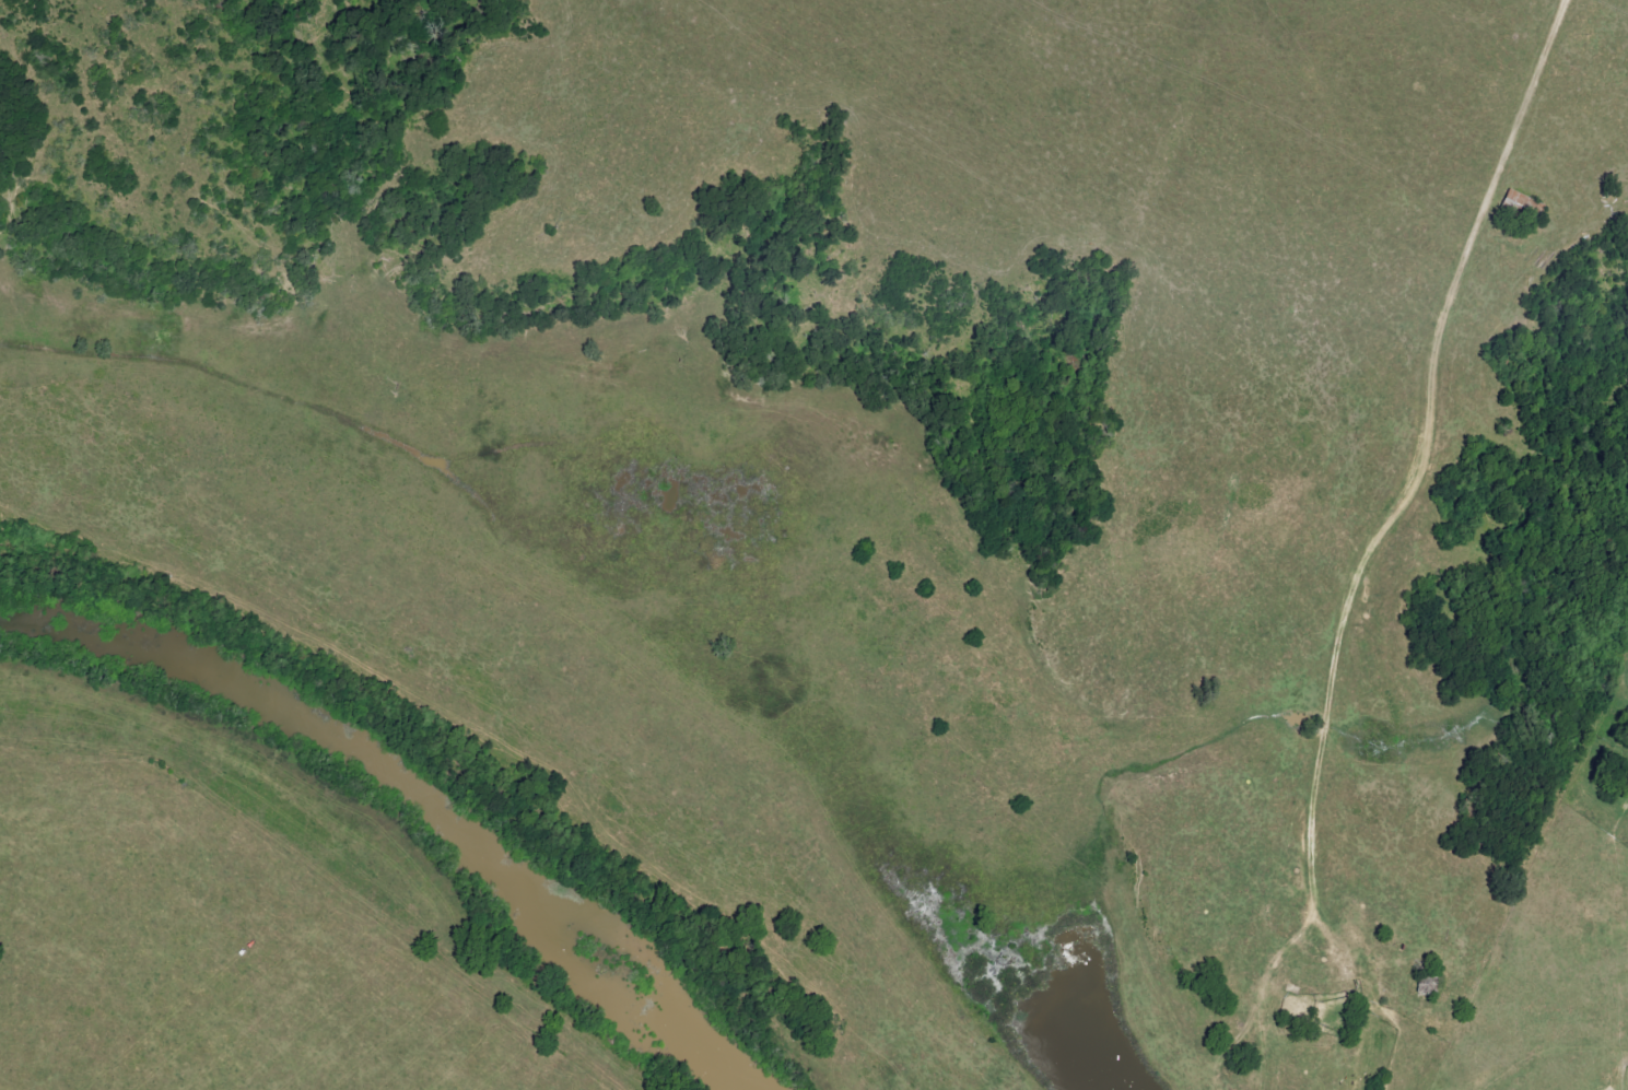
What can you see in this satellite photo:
road: (1380, 538)

